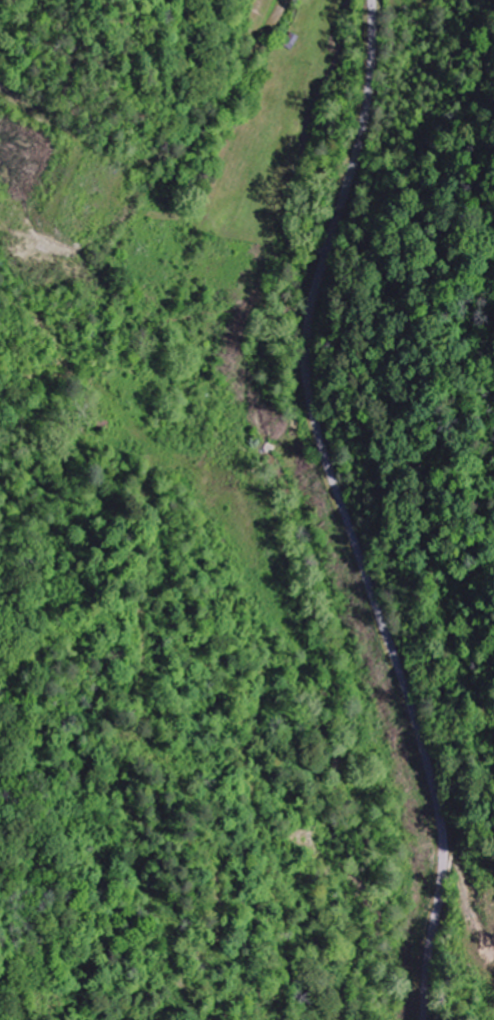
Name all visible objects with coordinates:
road: (342, 511)
road: (314, 963)

